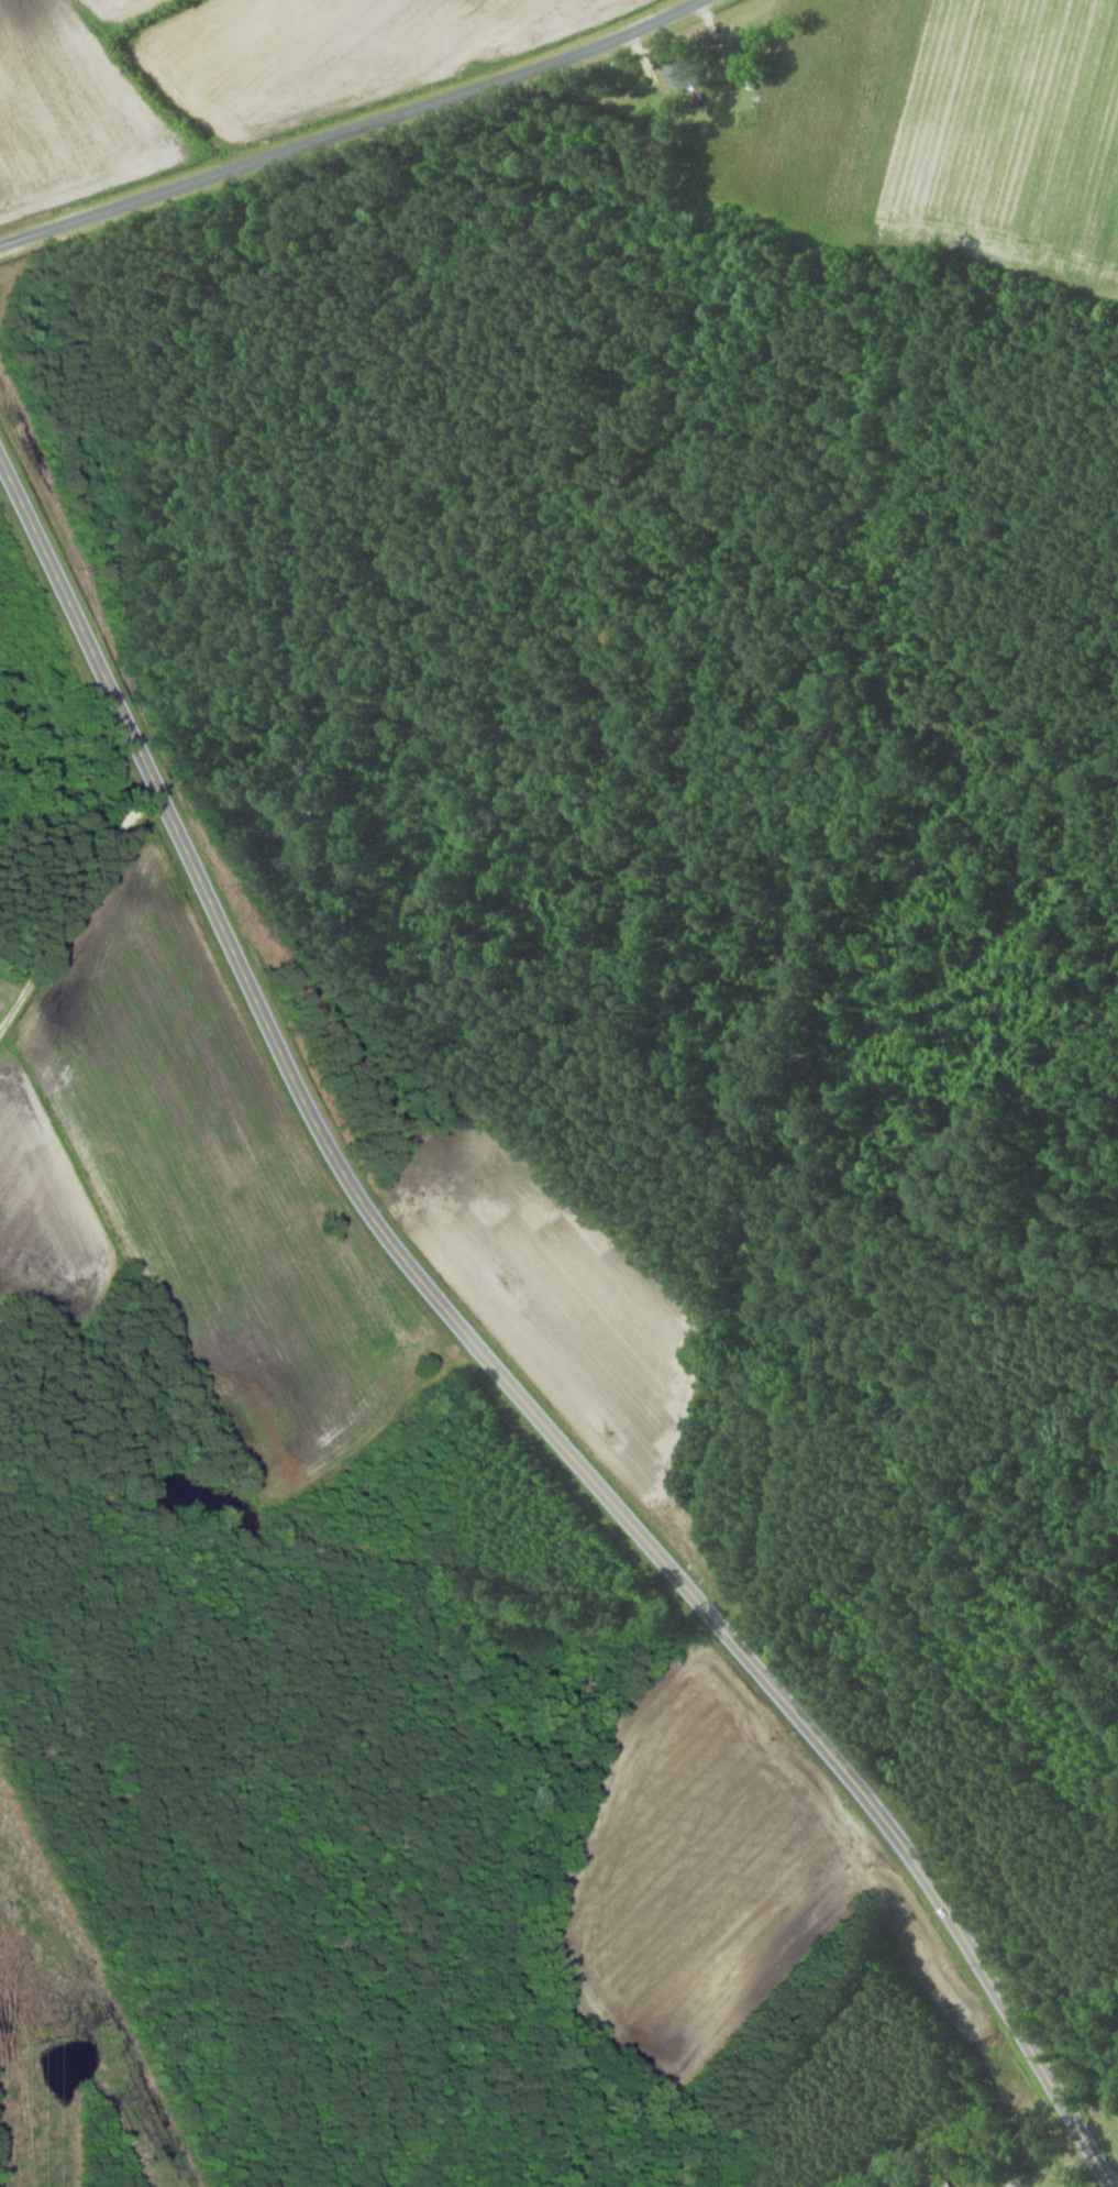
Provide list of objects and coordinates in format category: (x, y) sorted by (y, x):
building: (688, 72)
road: (353, 129)
road: (98, 1019)
road: (492, 1362)
power tower: (40, 2044)
building: (950, 2186)

